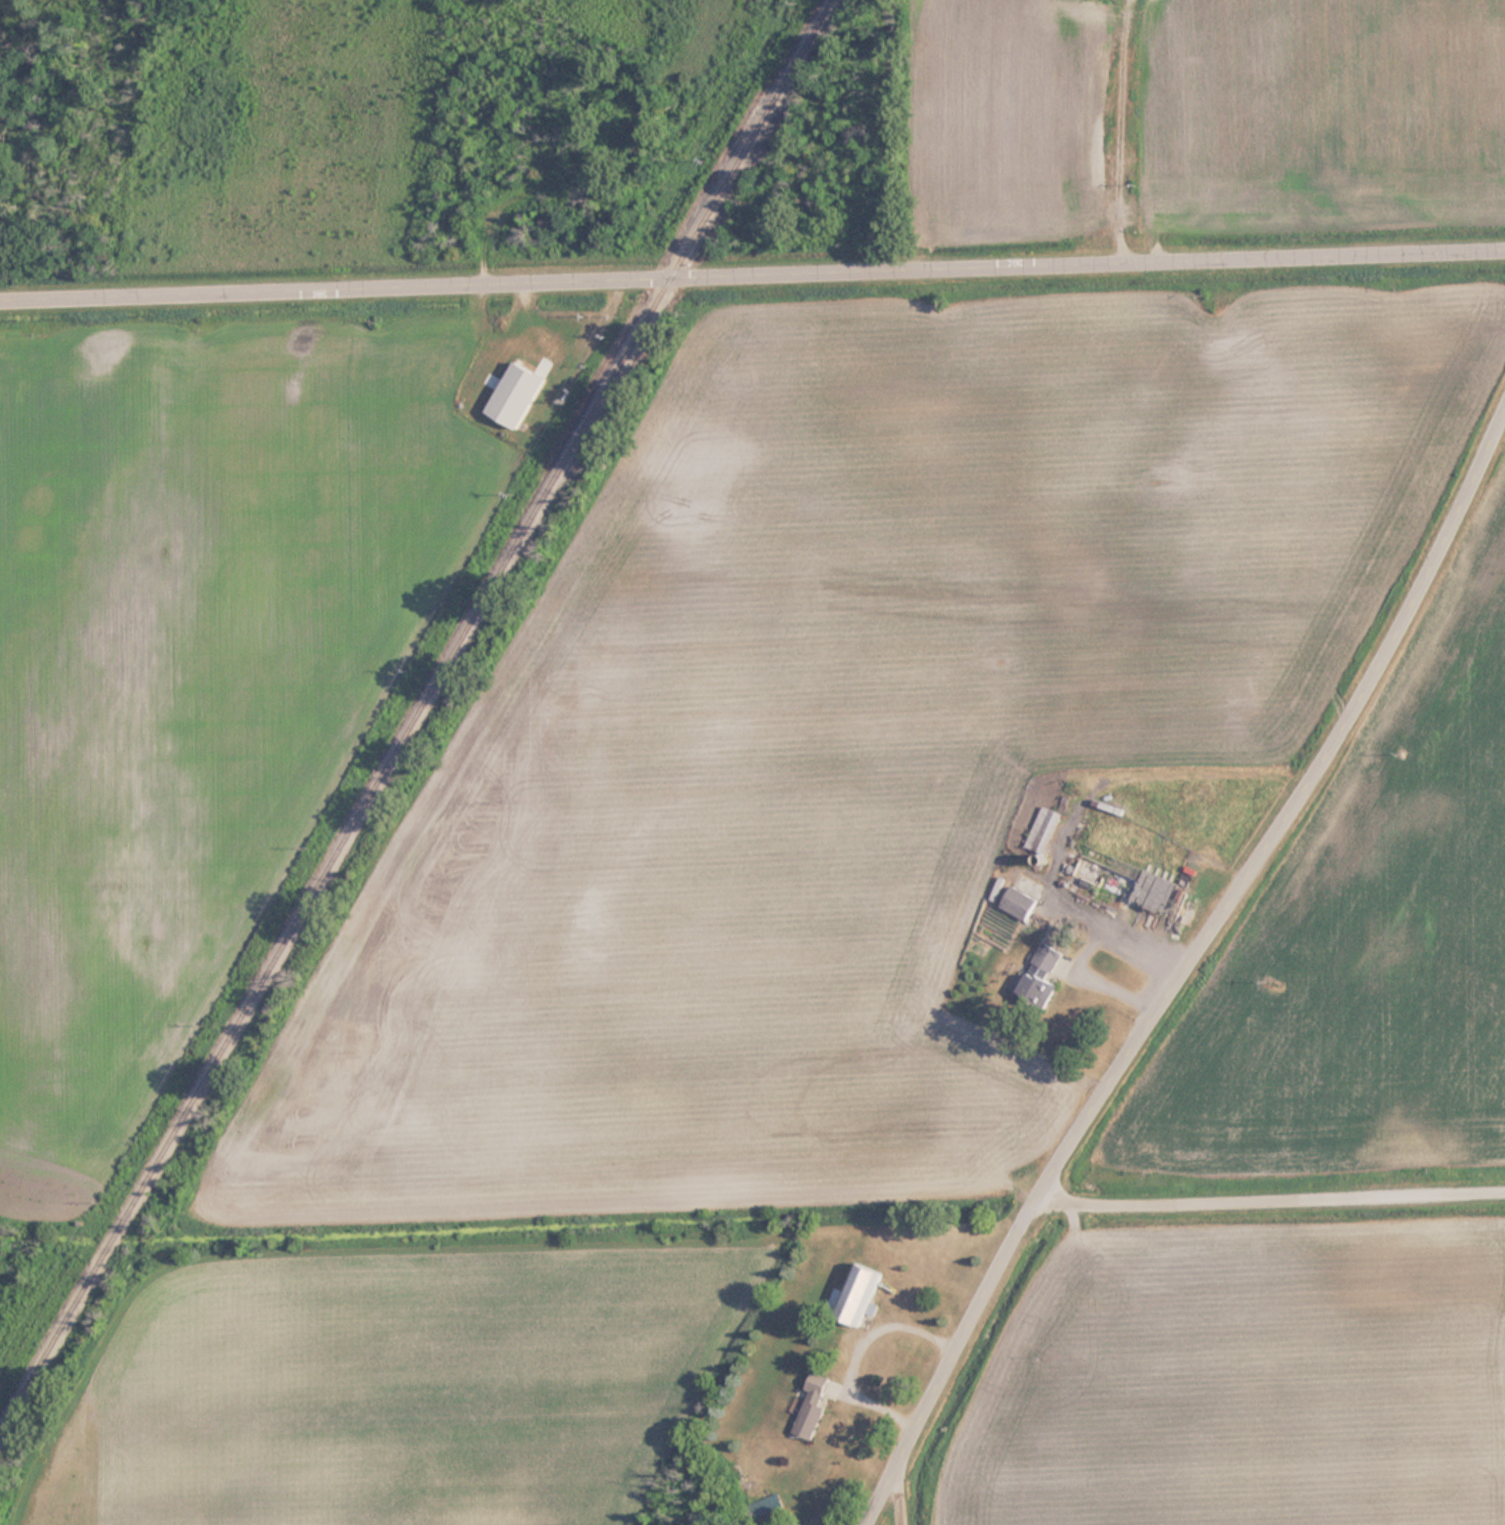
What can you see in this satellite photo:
building: (1107, 74)
road: (752, 272)
railway: (416, 715)
building: (1043, 829)
building: (1018, 902)
road: (1185, 964)
building: (1041, 974)
road: (1276, 1186)
building: (859, 1295)
building: (812, 1407)
road: (911, 1485)
building: (765, 1506)

